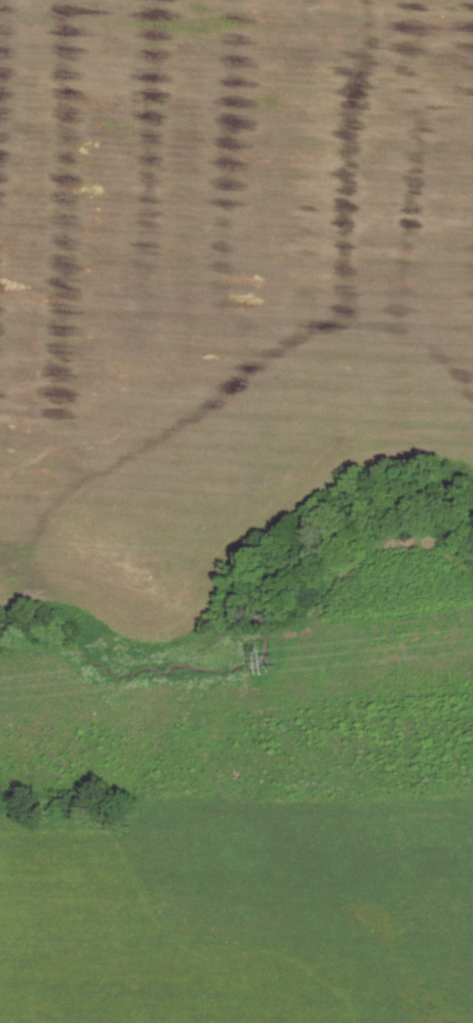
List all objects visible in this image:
power tower: (282, 662)

